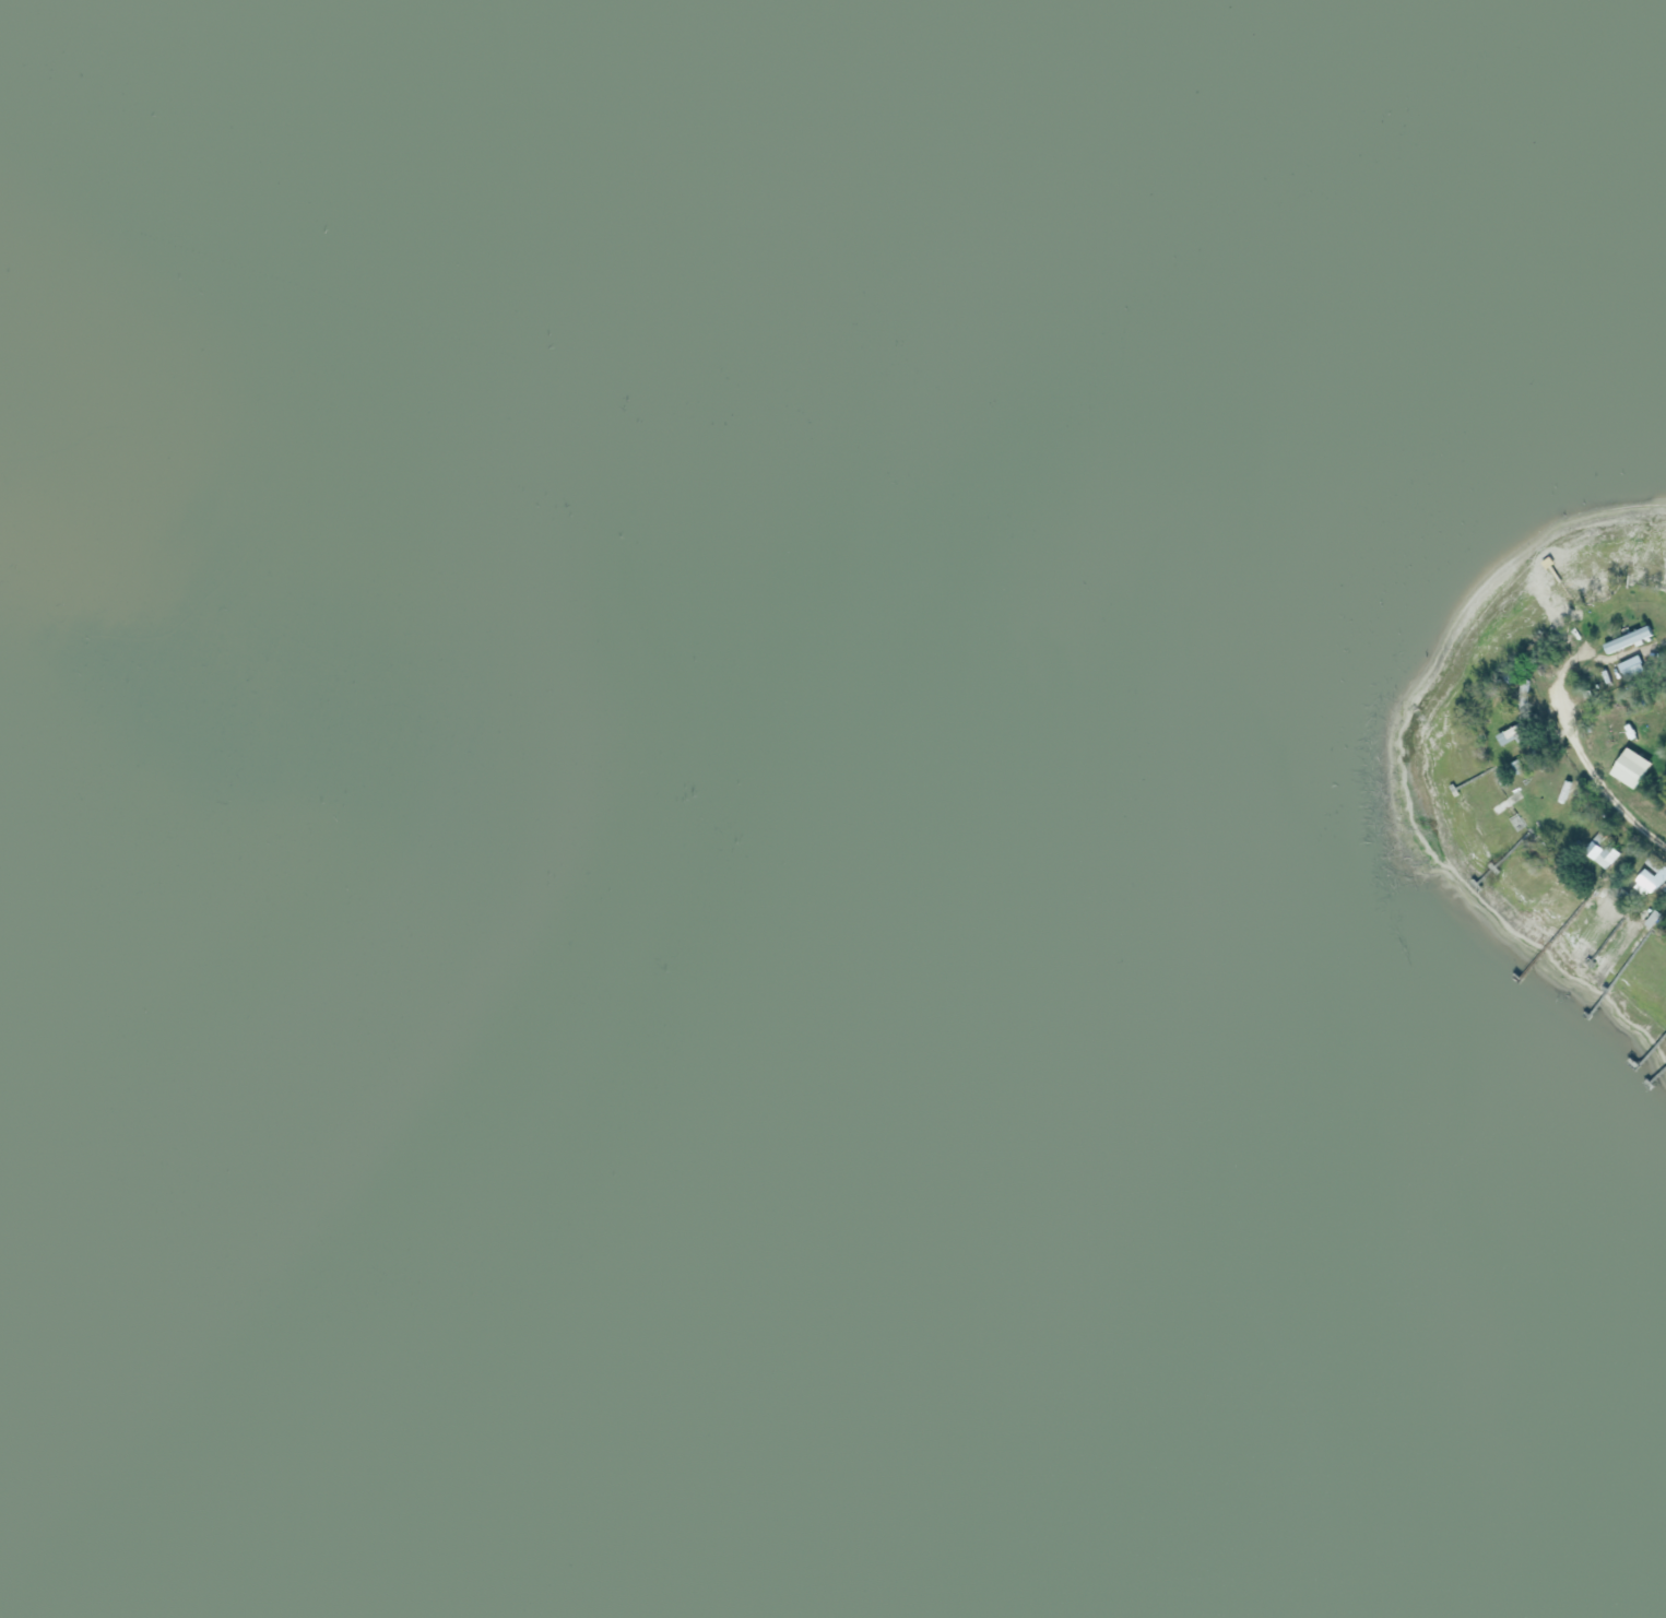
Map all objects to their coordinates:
building: (1627, 639)
building: (1628, 663)
building: (1510, 733)
building: (1624, 752)
building: (1545, 753)
building: (1628, 767)
road: (1598, 781)
building: (1563, 792)
building: (1604, 854)
building: (1650, 875)

